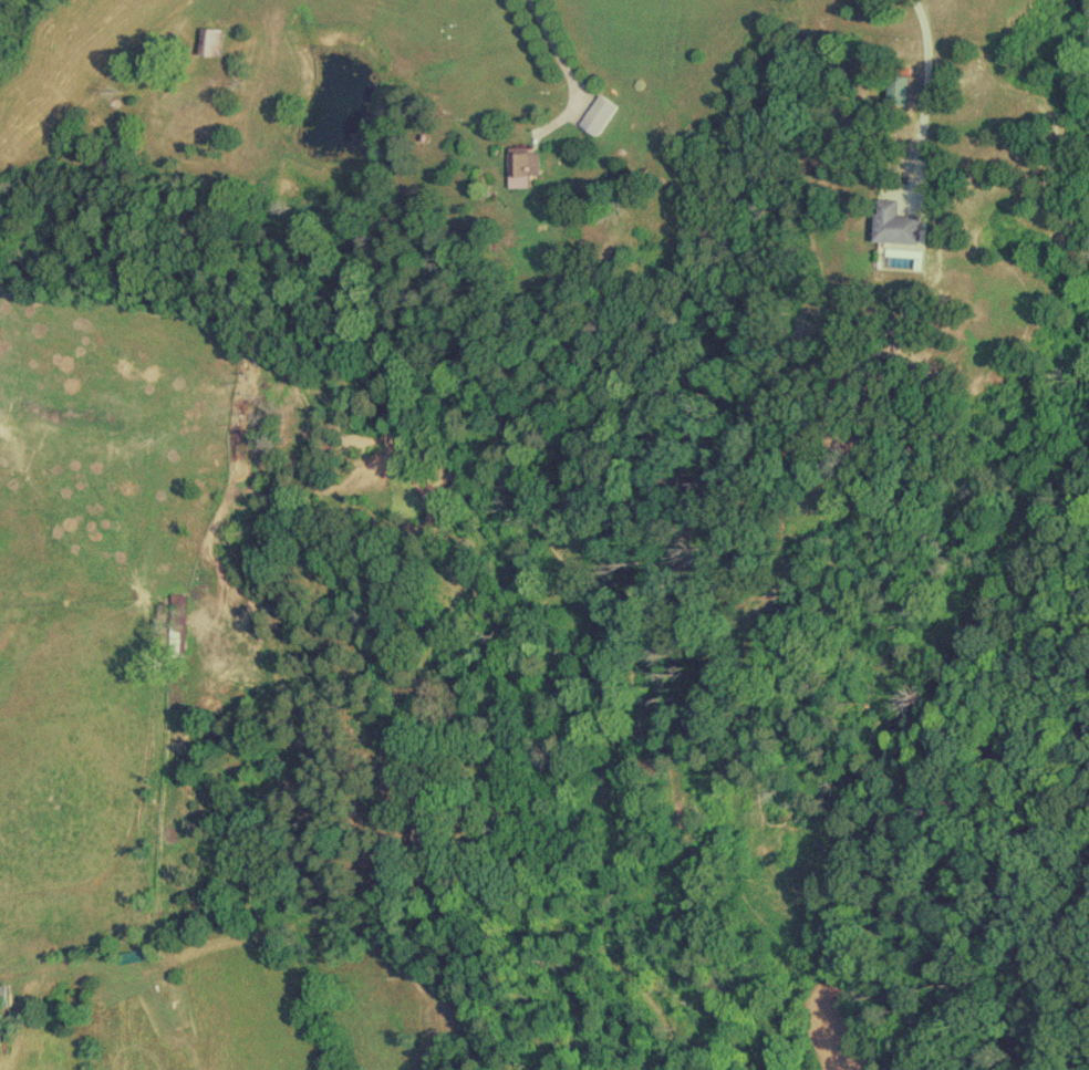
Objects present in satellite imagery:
road: (556, 60)
road: (924, 85)

